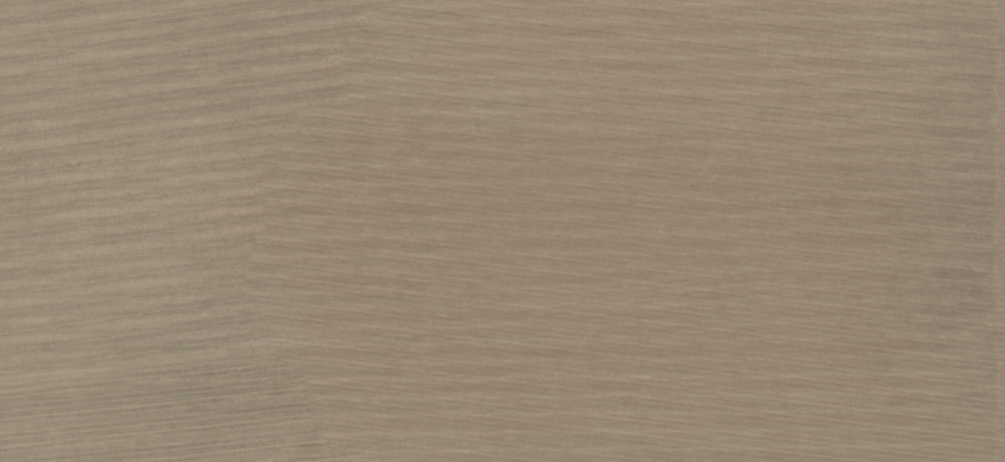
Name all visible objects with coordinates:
railway: (950, 403)

